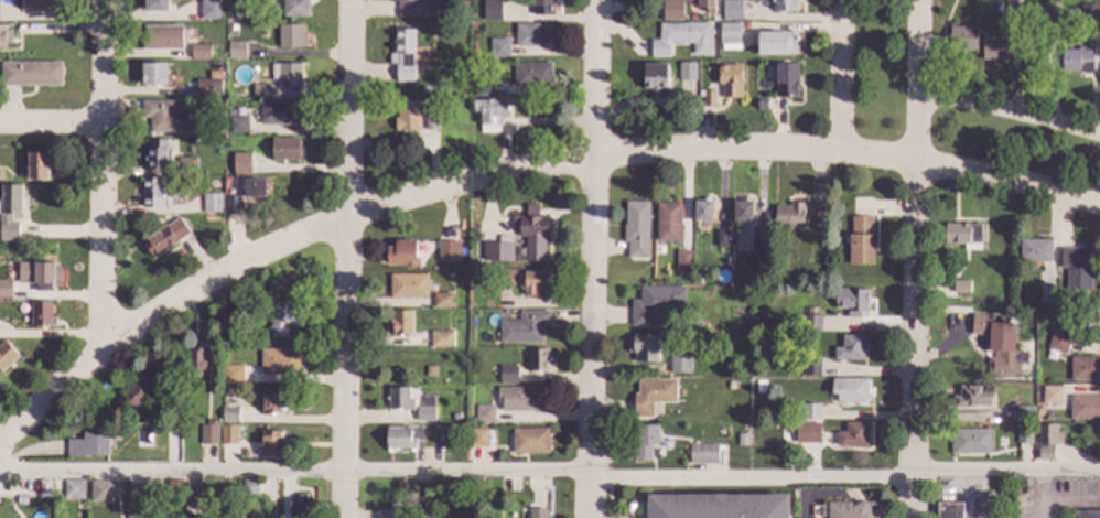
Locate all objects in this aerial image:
building: (1011, 0)
building: (263, 1)
building: (702, 3)
building: (39, 4)
building: (155, 4)
building: (785, 6)
building: (542, 7)
building: (294, 8)
building: (416, 8)
building: (209, 9)
building: (732, 9)
building: (492, 10)
building: (1054, 11)
building: (1089, 12)
building: (680, 14)
building: (229, 15)
building: (692, 17)
building: (233, 30)
building: (533, 34)
building: (4, 35)
building: (290, 35)
building: (687, 35)
building: (729, 35)
building: (162, 36)
building: (963, 39)
building: (776, 43)
building: (499, 47)
building: (235, 48)
building: (997, 48)
building: (201, 52)
building: (405, 54)
building: (1035, 55)
building: (1078, 60)
building: (31, 73)
building: (154, 74)
building: (287, 74)
building: (532, 74)
road: (840, 74)
building: (686, 75)
road: (597, 77)
building: (655, 77)
building: (671, 77)
building: (730, 80)
building: (787, 80)
building: (219, 82)
road: (919, 82)
building: (207, 87)
building: (482, 88)
building: (260, 90)
building: (424, 90)
building: (700, 93)
building: (763, 95)
building: (692, 97)
building: (709, 98)
road: (1011, 110)
building: (279, 112)
building: (489, 114)
building: (407, 116)
building: (166, 117)
building: (431, 120)
building: (238, 123)
road: (53, 125)
building: (215, 125)
building: (284, 149)
road: (719, 151)
building: (155, 154)
road: (877, 157)
building: (241, 163)
building: (187, 164)
building: (37, 165)
road: (105, 170)
building: (1, 174)
road: (1009, 182)
building: (254, 187)
building: (151, 192)
building: (212, 203)
building: (230, 204)
building: (10, 211)
building: (703, 211)
building: (743, 211)
building: (817, 212)
building: (789, 215)
building: (668, 222)
building: (636, 228)
building: (531, 230)
building: (963, 235)
building: (164, 236)
building: (721, 238)
building: (758, 238)
building: (861, 240)
road: (271, 247)
building: (447, 250)
building: (496, 250)
building: (1035, 250)
building: (401, 253)
road: (349, 259)
building: (683, 260)
building: (477, 262)
building: (1076, 267)
building: (36, 273)
building: (503, 279)
building: (794, 279)
building: (535, 281)
building: (408, 284)
building: (961, 287)
building: (1099, 287)
building: (4, 288)
building: (715, 288)
building: (1047, 294)
building: (1098, 295)
building: (443, 299)
building: (851, 300)
building: (656, 303)
building: (42, 313)
building: (284, 317)
building: (695, 317)
building: (1011, 317)
building: (791, 319)
building: (401, 322)
building: (811, 323)
building: (525, 326)
building: (1088, 327)
building: (730, 328)
building: (1099, 332)
road: (593, 336)
building: (488, 337)
building: (442, 338)
road: (916, 341)
building: (1058, 341)
building: (999, 345)
building: (644, 347)
building: (851, 347)
building: (6, 354)
building: (1049, 354)
building: (538, 359)
building: (281, 360)
building: (195, 361)
building: (680, 363)
building: (811, 367)
building: (1085, 369)
building: (430, 370)
building: (231, 374)
building: (508, 374)
building: (162, 385)
building: (731, 385)
building: (762, 388)
building: (850, 389)
building: (681, 391)
building: (654, 395)
building: (1052, 395)
building: (134, 396)
building: (974, 397)
building: (400, 398)
building: (527, 398)
building: (272, 403)
building: (796, 407)
building: (1085, 408)
building: (810, 411)
building: (1038, 411)
building: (229, 413)
building: (425, 413)
building: (484, 413)
building: (1024, 414)
building: (456, 416)
building: (488, 431)
building: (813, 431)
building: (206, 432)
building: (228, 433)
building: (1023, 434)
building: (853, 435)
building: (478, 436)
building: (402, 438)
building: (741, 438)
building: (530, 441)
building: (645, 441)
building: (271, 442)
building: (970, 442)
building: (1046, 442)
building: (90, 443)
building: (703, 453)
road: (550, 465)
building: (238, 484)
building: (30, 486)
building: (43, 487)
building: (251, 487)
building: (73, 488)
building: (101, 490)
building: (138, 492)
building: (176, 492)
road: (1039, 493)
building: (21, 497)
building: (195, 499)
road: (1069, 499)
building: (46, 506)
building: (718, 506)
building: (300, 507)
building: (425, 510)
building: (854, 510)
building: (949, 510)
building: (387, 514)
building: (537, 514)
building: (1088, 514)

